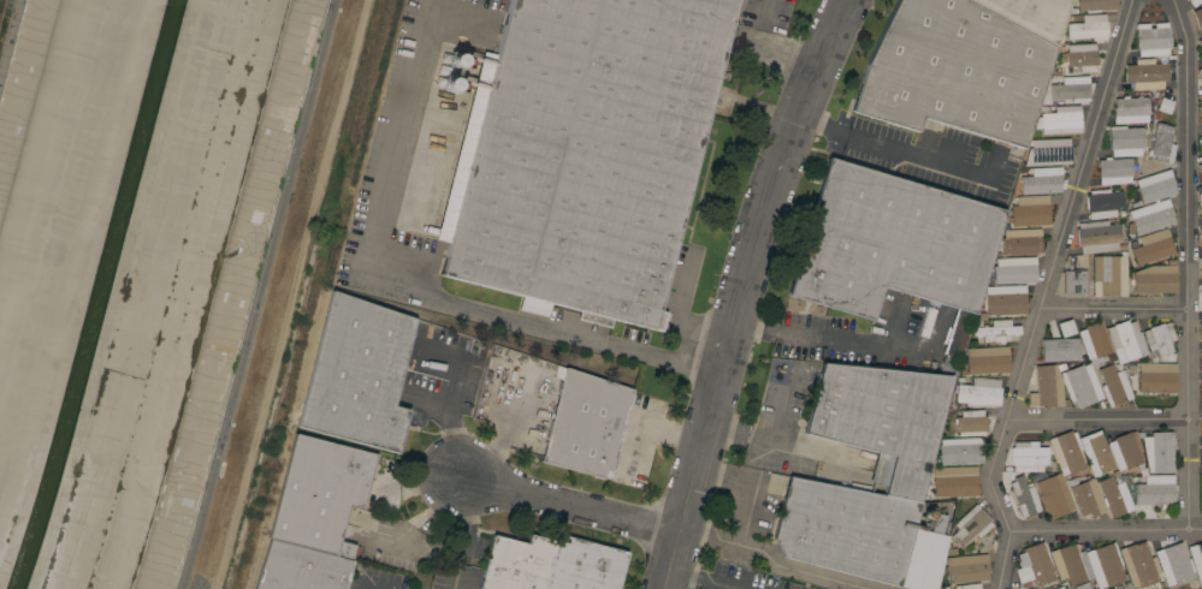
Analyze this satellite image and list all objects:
building: (1194, 2)
building: (1095, 5)
building: (1030, 14)
building: (1198, 18)
building: (1088, 28)
building: (1153, 38)
building: (1200, 44)
road: (769, 50)
building: (1082, 56)
building: (954, 71)
building: (1147, 75)
building: (1200, 76)
building: (1071, 89)
building: (1165, 106)
building: (1130, 109)
building: (1201, 109)
building: (1061, 120)
building: (1201, 133)
building: (1125, 141)
building: (1200, 142)
building: (1161, 144)
road: (893, 149)
building: (1049, 151)
building: (582, 153)
building: (1200, 168)
building: (1114, 171)
building: (1041, 180)
building: (1155, 186)
building: (1200, 201)
building: (1103, 203)
building: (1034, 208)
building: (1150, 216)
building: (1097, 236)
building: (1201, 237)
building: (1022, 242)
building: (892, 243)
building: (1154, 245)
building: (1200, 262)
road: (1186, 263)
building: (1013, 270)
building: (1109, 275)
building: (1155, 280)
building: (1074, 282)
road: (752, 291)
building: (1201, 293)
road: (257, 294)
road: (1043, 294)
river: (99, 296)
road: (425, 299)
building: (1003, 304)
road: (1113, 307)
building: (1200, 327)
building: (1066, 328)
building: (997, 331)
road: (806, 333)
building: (958, 334)
building: (1159, 339)
building: (1094, 340)
building: (1126, 341)
building: (1059, 350)
building: (1201, 356)
building: (988, 361)
building: (949, 365)
building: (357, 375)
building: (1154, 380)
building: (1080, 385)
building: (1114, 386)
building: (1201, 386)
building: (1047, 387)
building: (1201, 391)
building: (978, 392)
road: (1096, 418)
building: (1201, 420)
building: (881, 421)
building: (586, 423)
building: (971, 423)
road: (679, 434)
road: (758, 439)
road: (498, 446)
building: (1201, 447)
building: (959, 451)
building: (1124, 451)
building: (1159, 452)
building: (1095, 453)
building: (1067, 454)
building: (1201, 454)
building: (1028, 457)
building: (952, 481)
building: (1155, 490)
building: (320, 494)
building: (1054, 496)
building: (1114, 496)
building: (1024, 498)
building: (1088, 498)
road: (750, 508)
road: (568, 510)
building: (971, 525)
building: (846, 529)
road: (1106, 530)
building: (924, 557)
building: (1196, 560)
building: (517, 564)
building: (1067, 564)
building: (1138, 564)
building: (584, 565)
building: (1106, 565)
building: (1174, 565)
building: (1035, 566)
building: (301, 569)
building: (967, 569)
road: (700, 581)
building: (969, 587)
building: (1059, 588)

